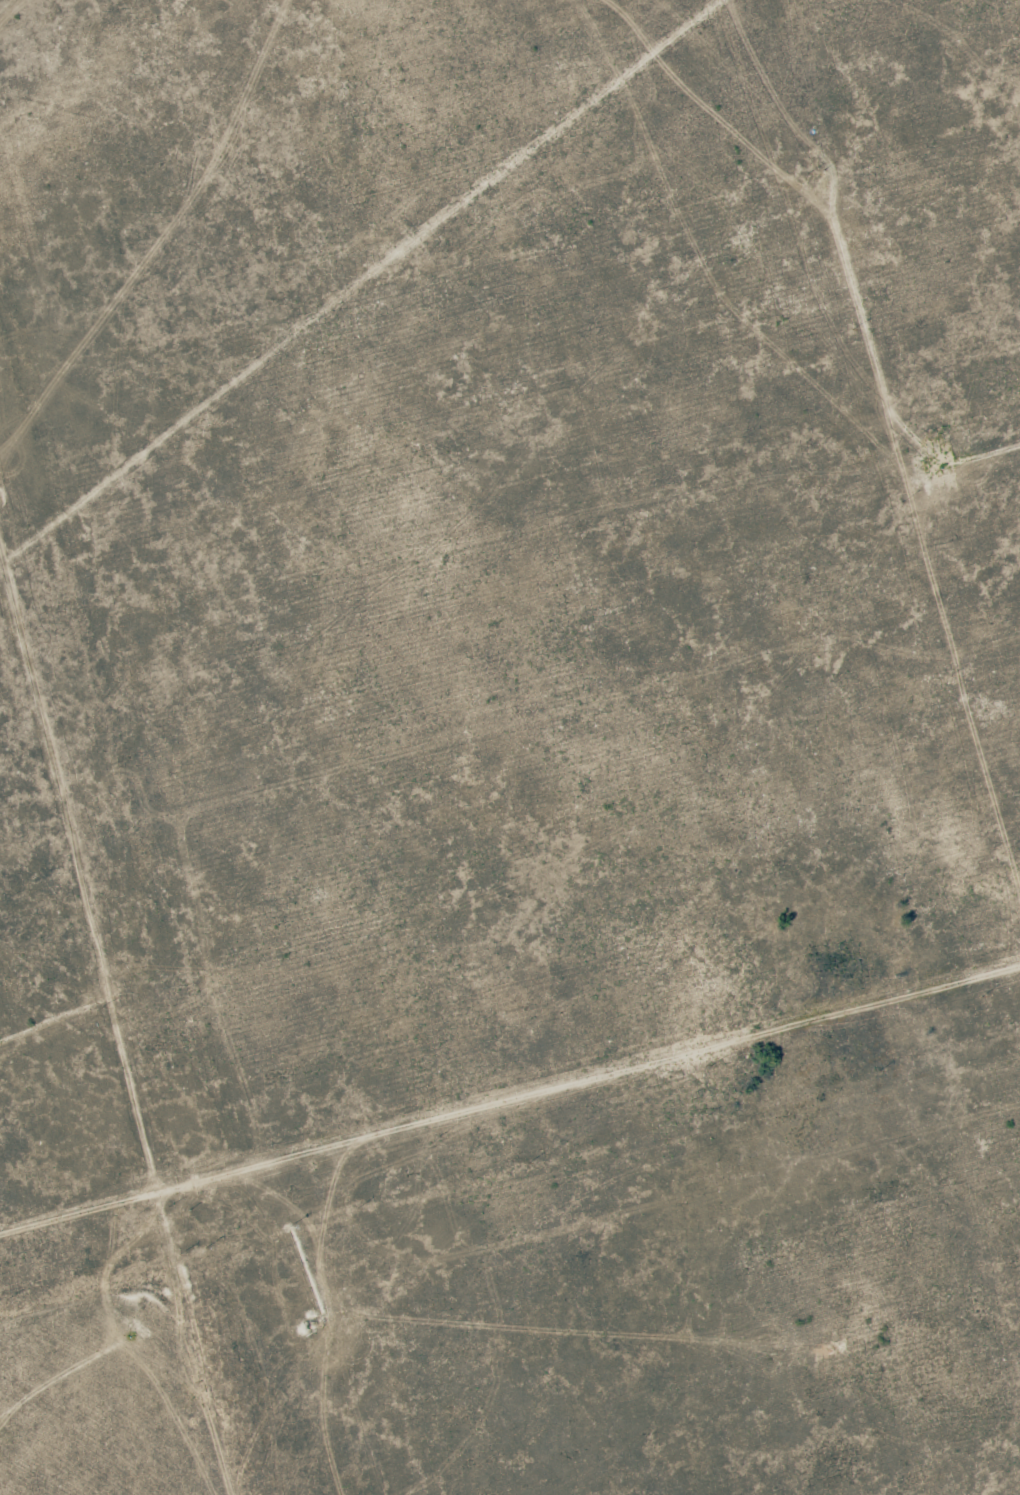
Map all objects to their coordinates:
river: (1012, 17)

